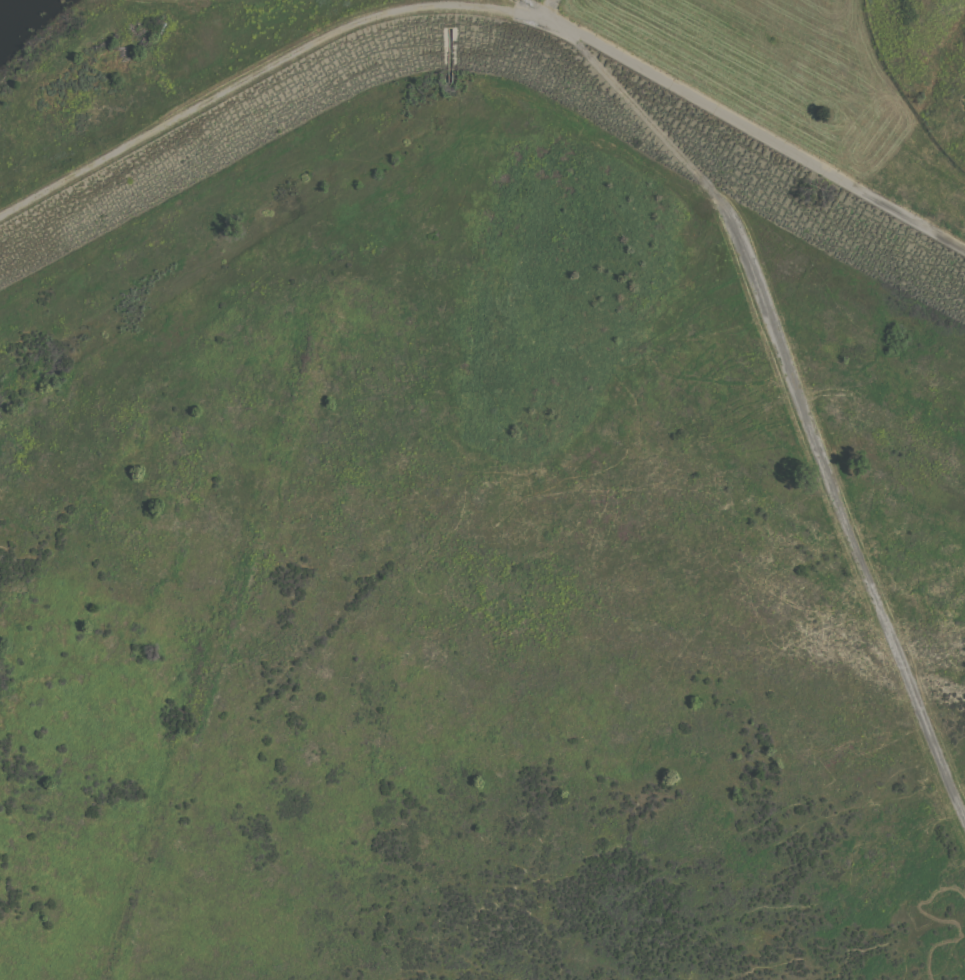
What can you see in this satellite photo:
road: (490, 4)
road: (487, 7)
road: (549, 7)
road: (795, 392)

